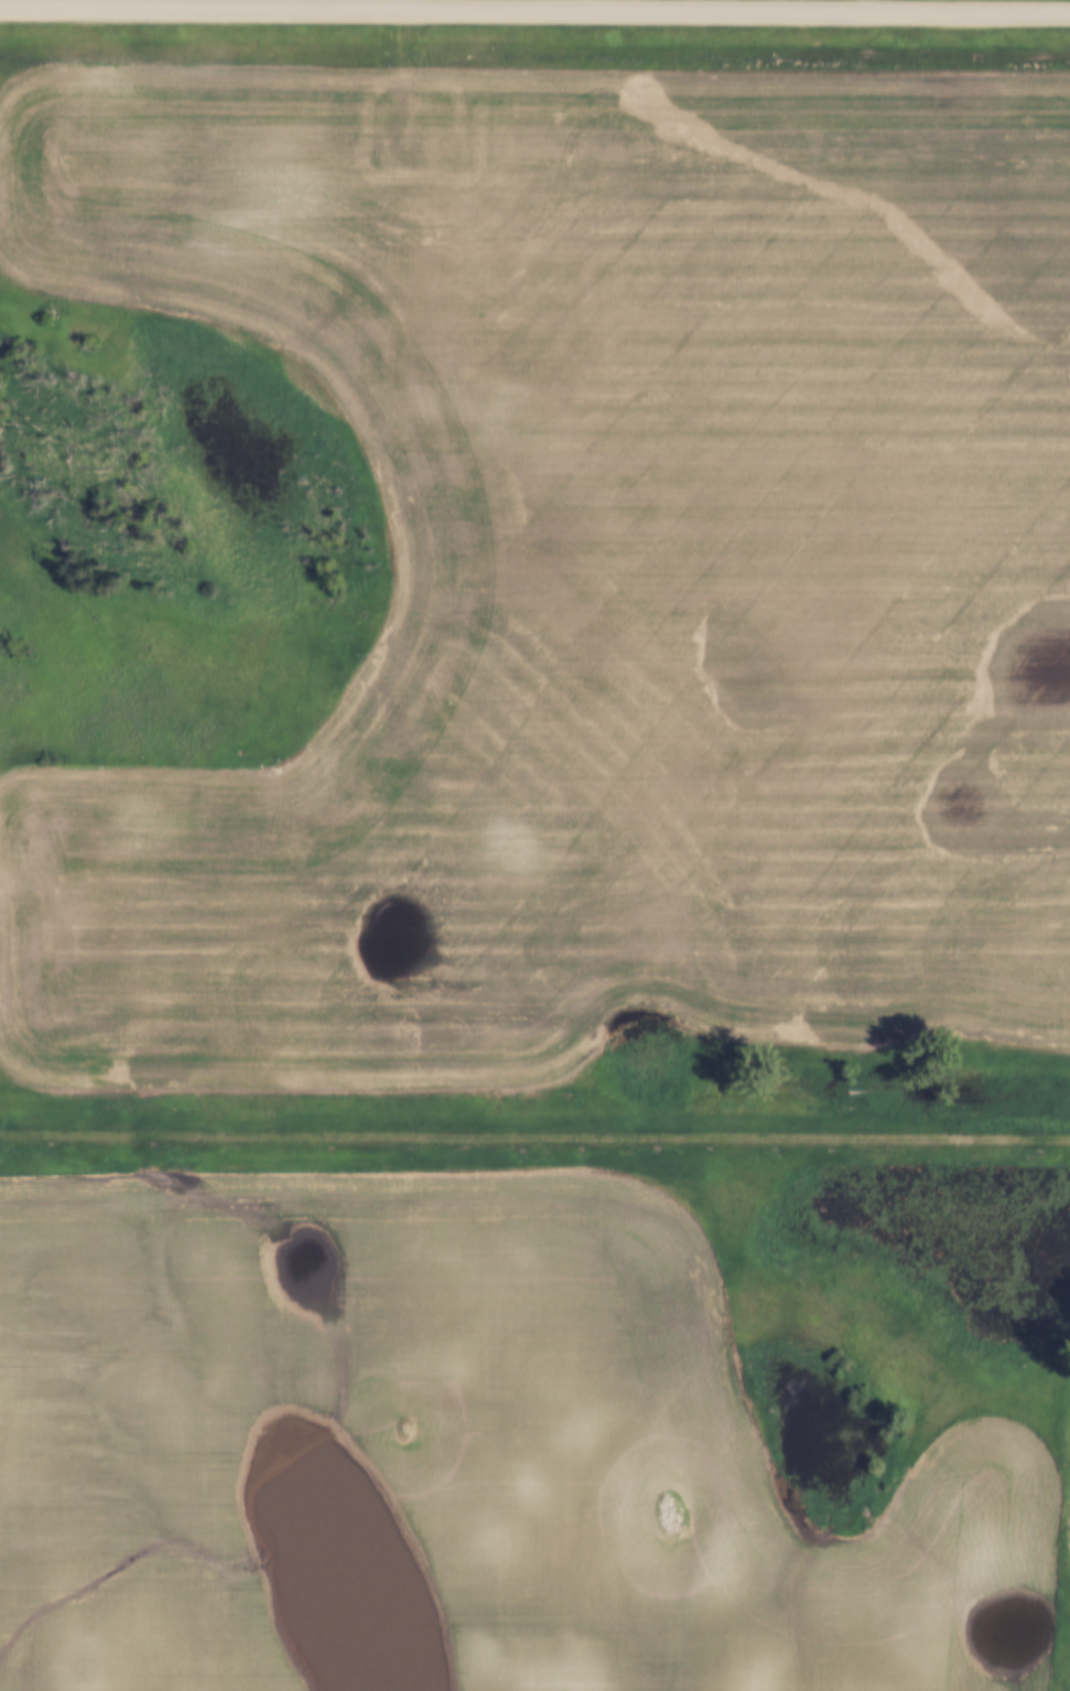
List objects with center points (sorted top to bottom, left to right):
road: (534, 10)

